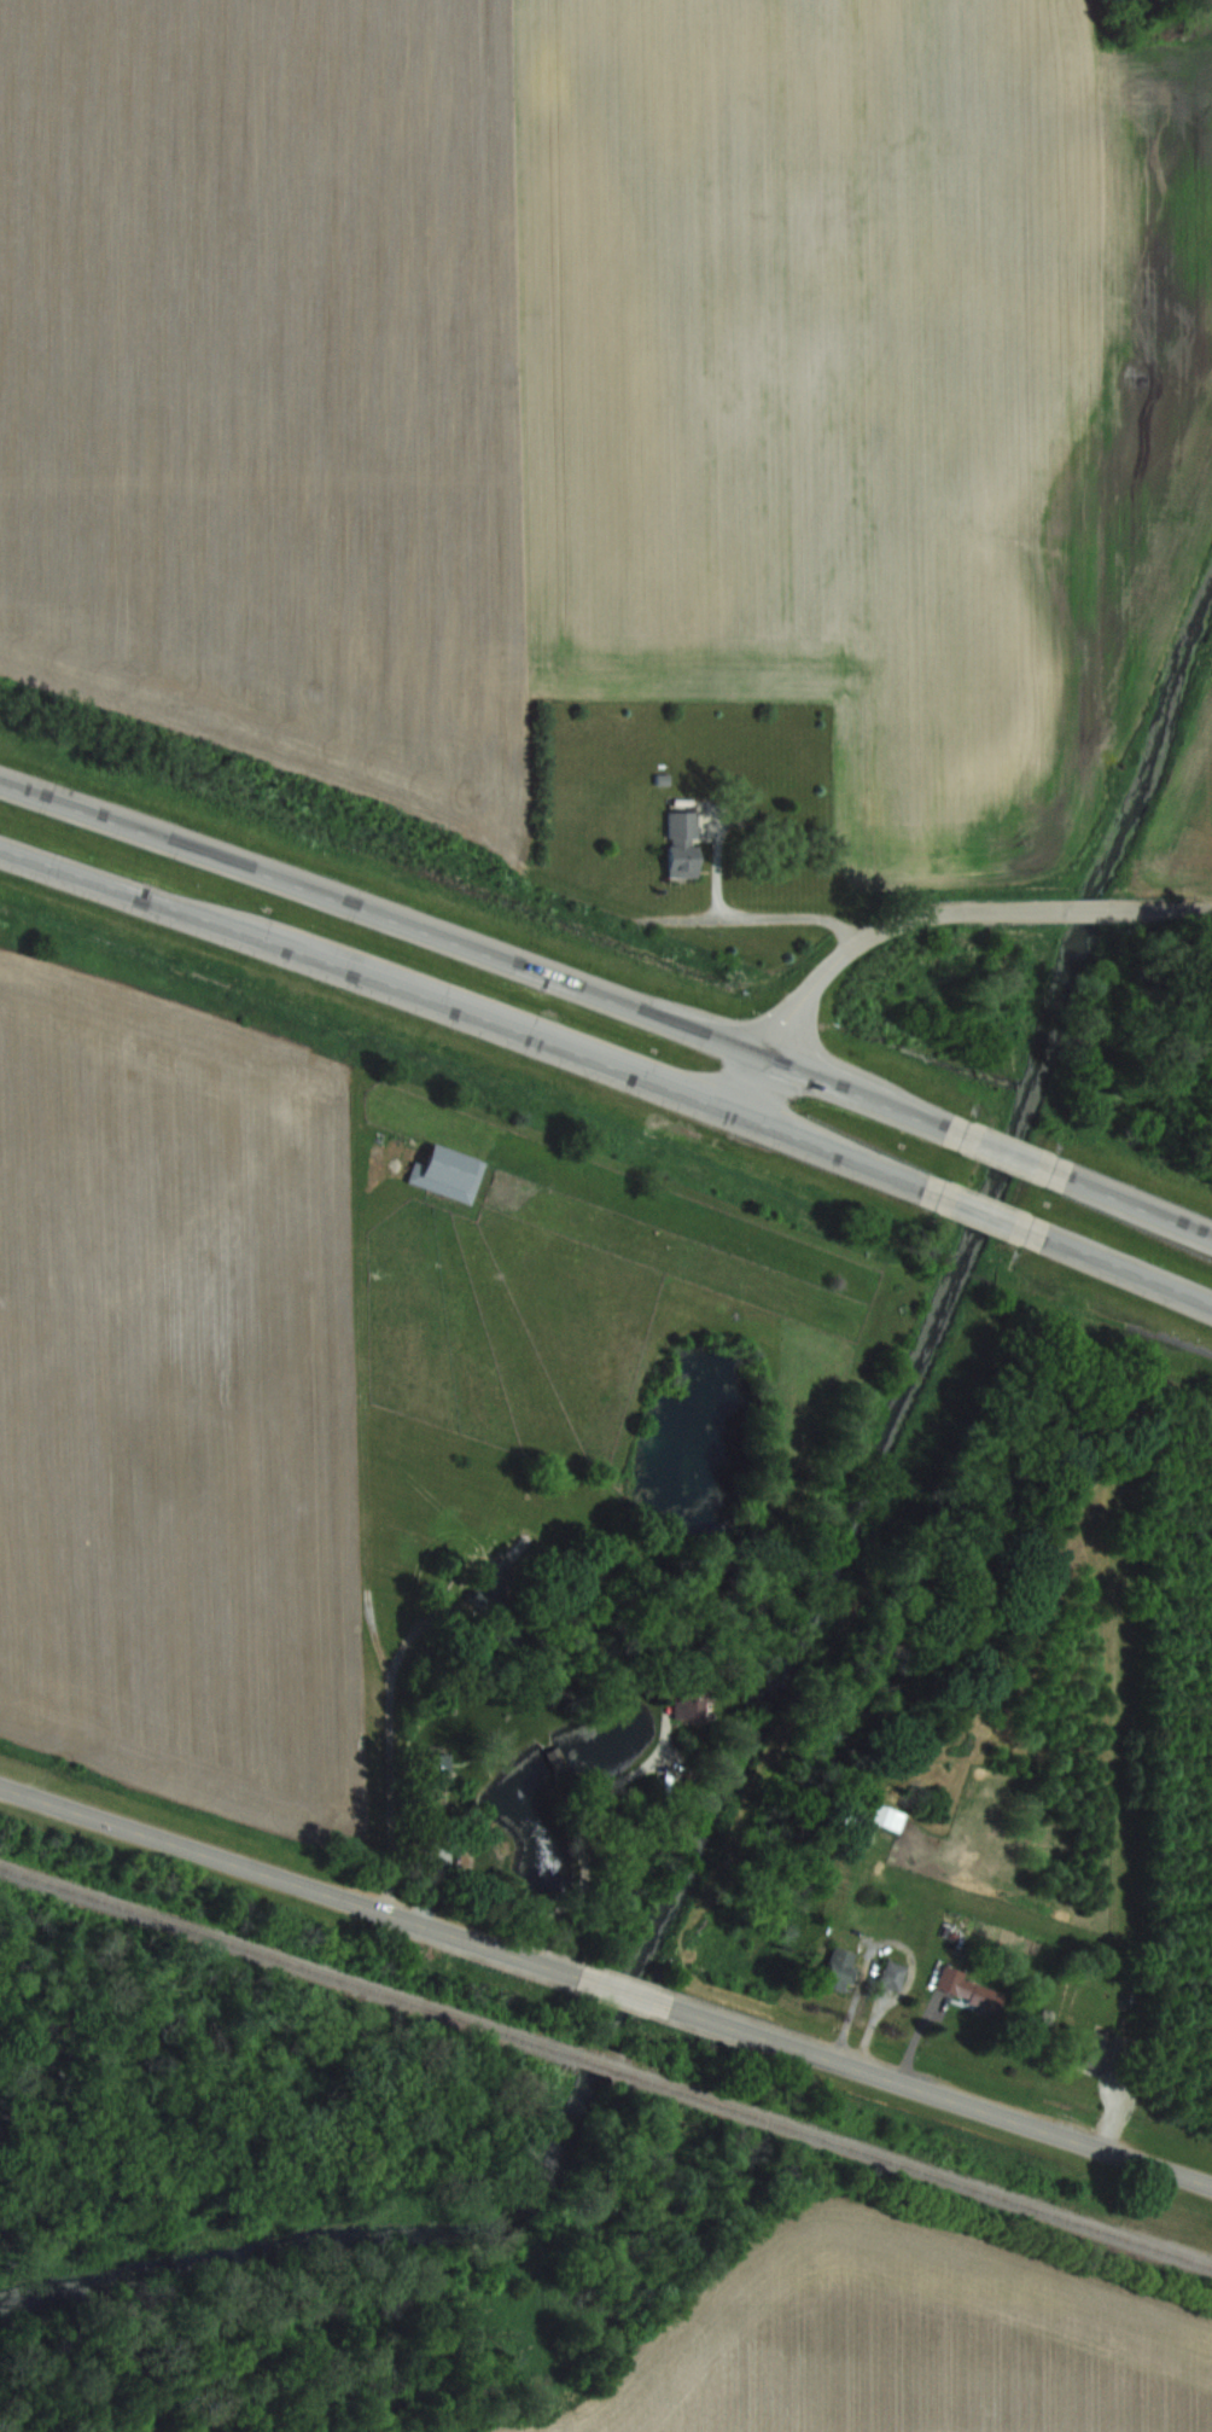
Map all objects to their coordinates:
building: (677, 859)
road: (1165, 908)
road: (1100, 909)
road: (752, 910)
road: (866, 939)
road: (476, 949)
road: (464, 1010)
road: (1008, 1152)
building: (444, 1171)
road: (1140, 1205)
road: (985, 1209)
road: (1129, 1268)
crop: (180, 1406)
road: (375, 1656)
building: (693, 1704)
building: (432, 1767)
building: (886, 1816)
road: (570, 1832)
road: (286, 1880)
railway: (289, 1960)
building: (834, 1968)
building: (888, 1973)
building: (965, 1988)
road: (619, 1990)
building: (1097, 2050)
railway: (595, 2061)
road: (938, 2095)
railway: (913, 2165)

